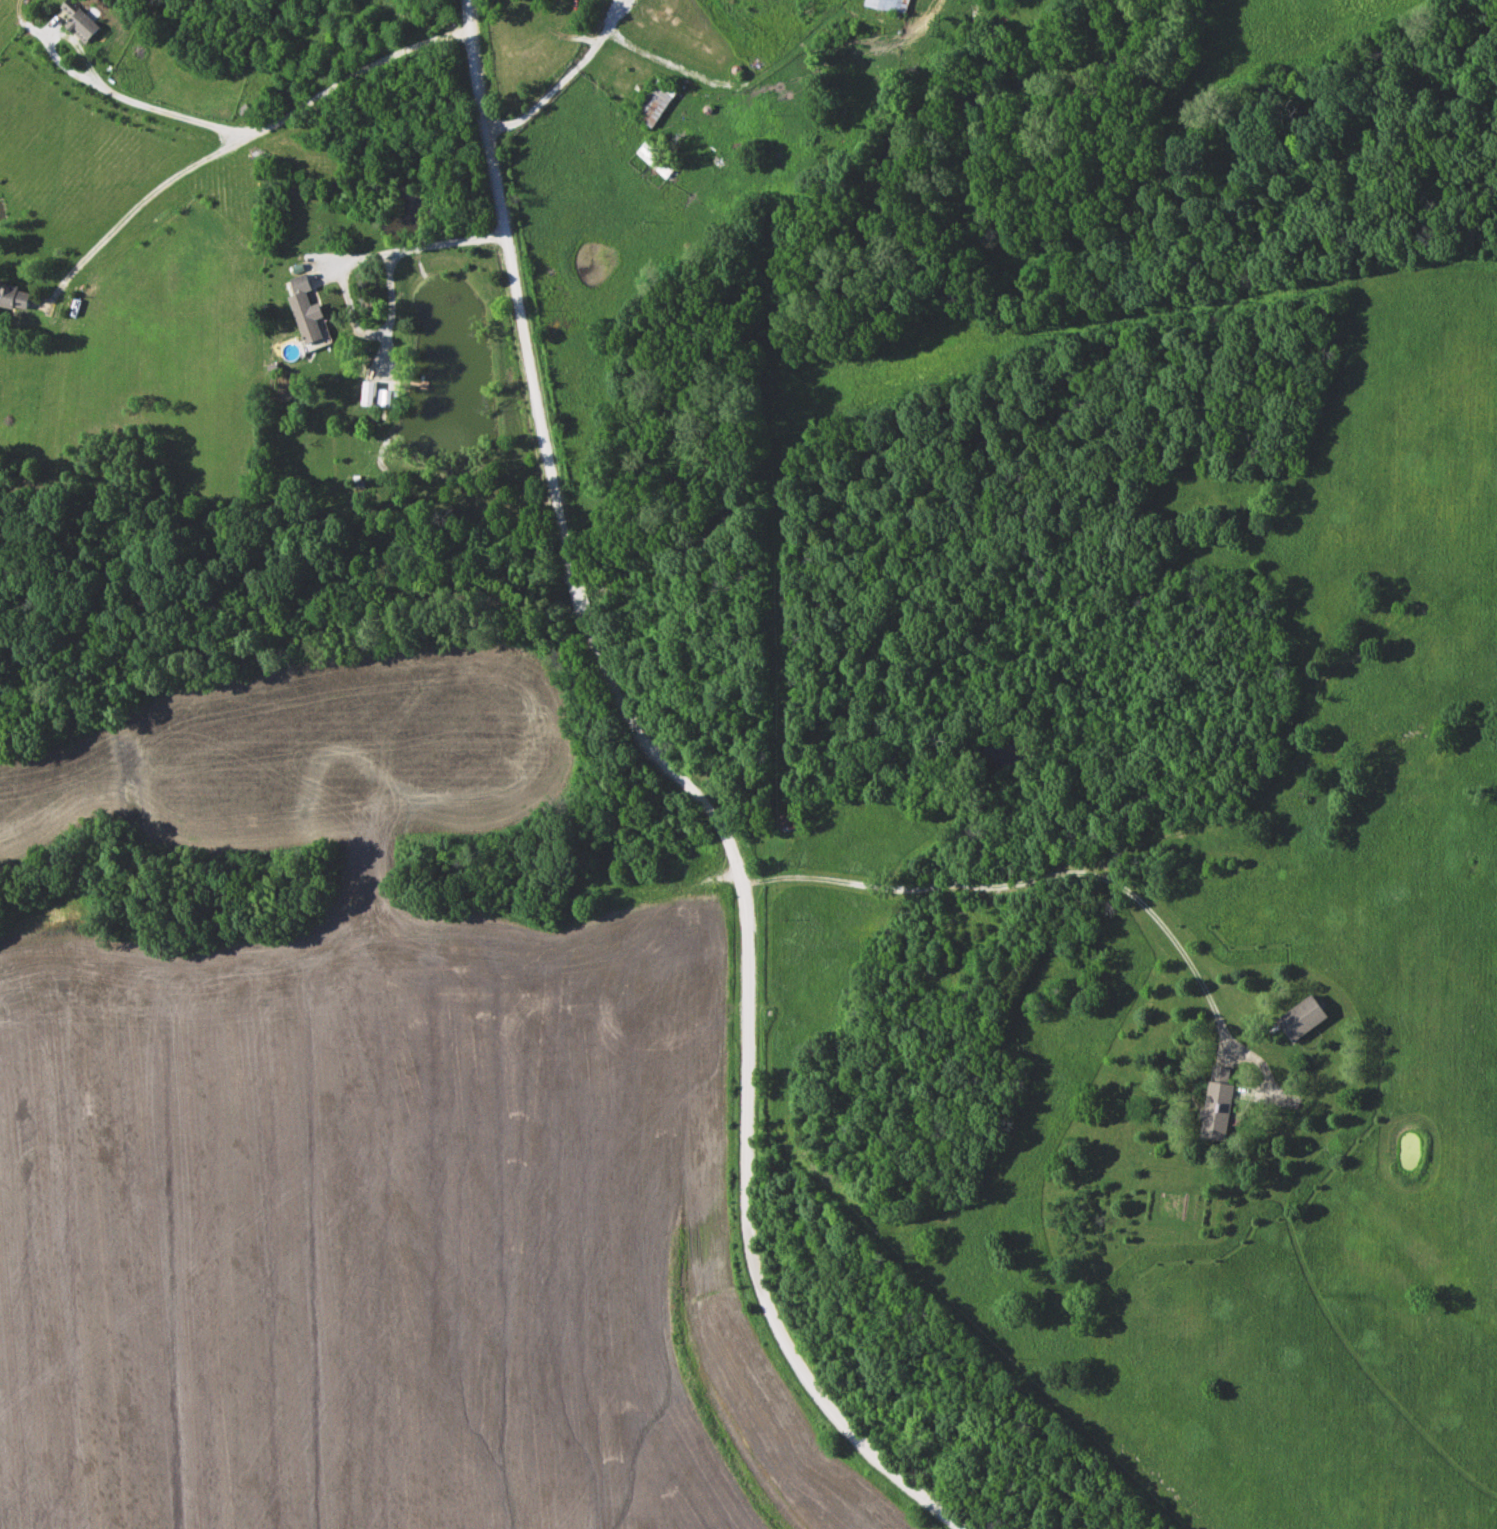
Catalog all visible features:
building: (891, 5)
building: (84, 25)
road: (595, 48)
building: (656, 102)
road: (152, 110)
road: (246, 138)
building: (658, 159)
road: (426, 246)
building: (15, 297)
building: (307, 309)
road: (689, 789)
building: (792, 822)
road: (1031, 881)
building: (1304, 1018)
building: (1219, 1104)

